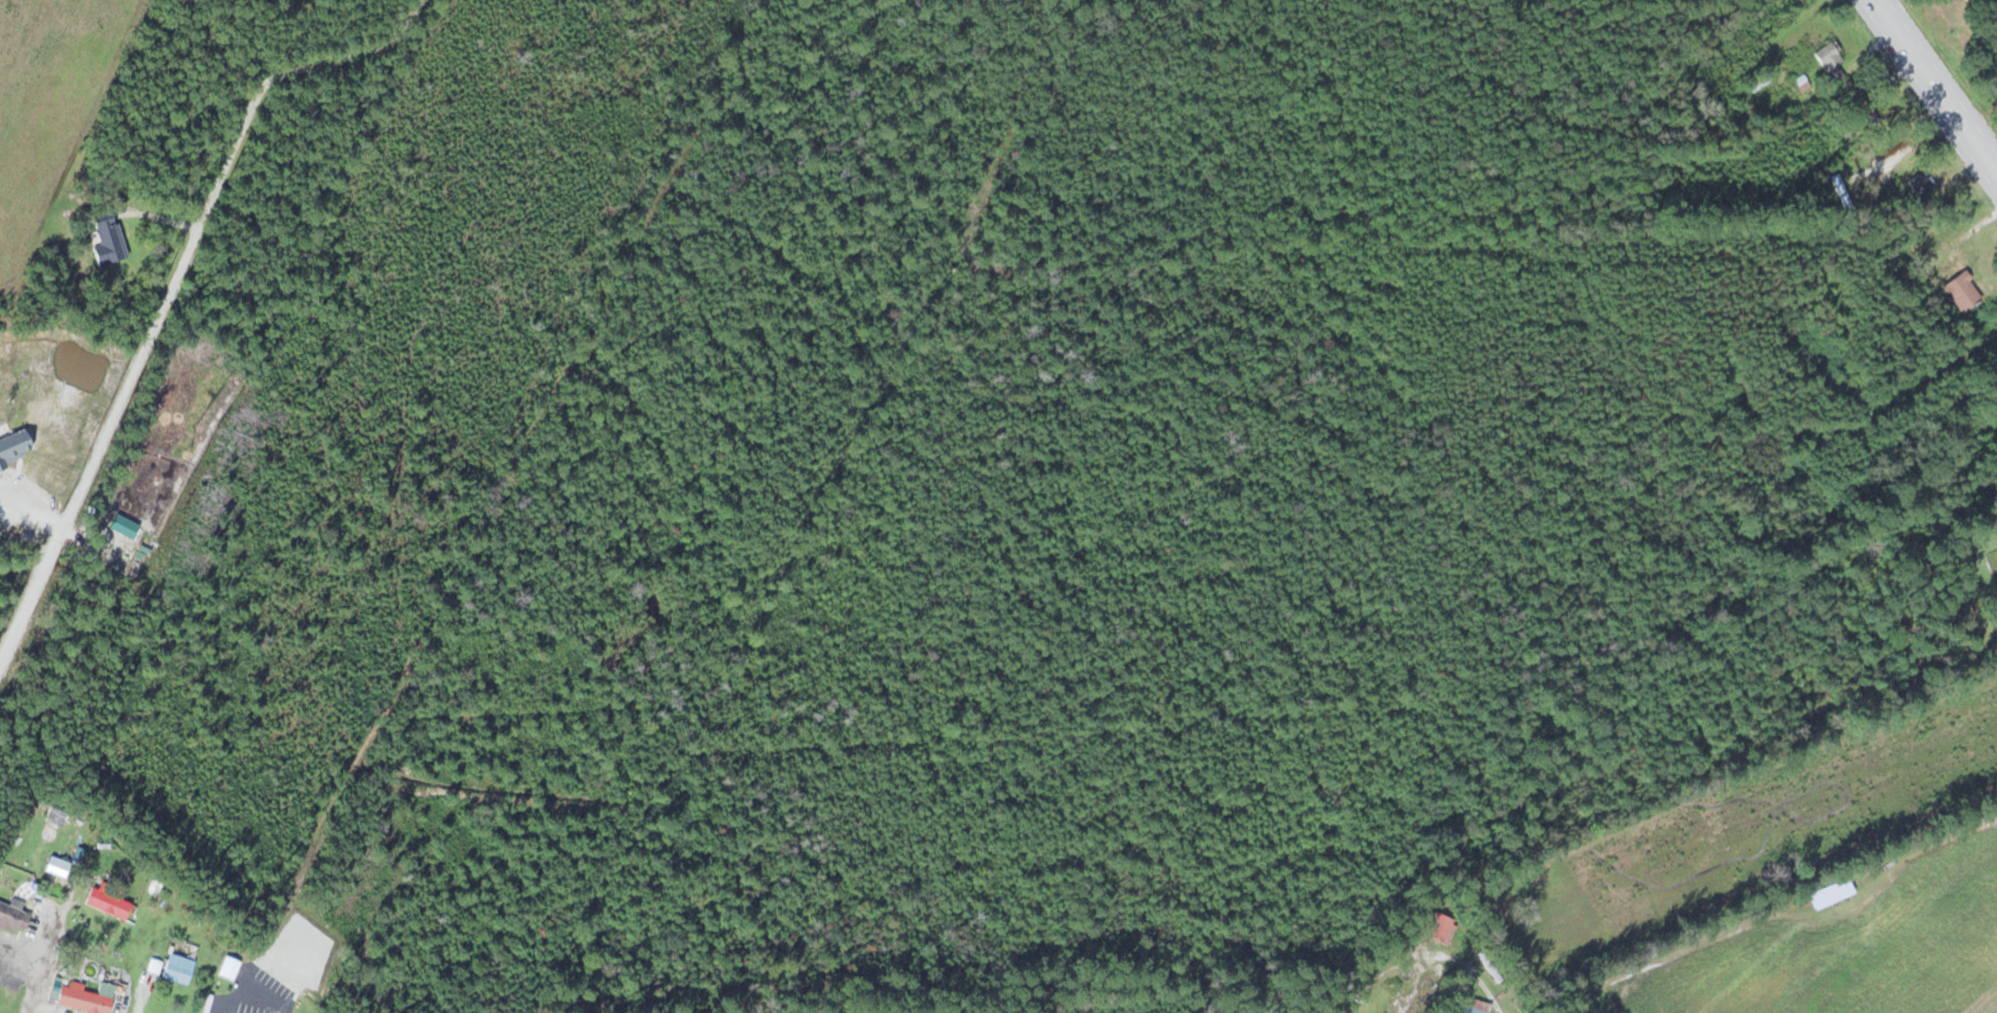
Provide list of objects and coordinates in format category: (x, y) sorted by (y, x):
building: (1970, 1)
building: (1756, 81)
road: (1939, 81)
building: (1887, 147)
building: (1916, 187)
building: (105, 237)
building: (1961, 291)
road: (1016, 511)
building: (56, 814)
building: (56, 876)
road: (137, 890)
building: (106, 903)
building: (13, 915)
building: (1436, 927)
building: (172, 968)
road: (1484, 975)
building: (81, 999)
building: (1472, 1006)

